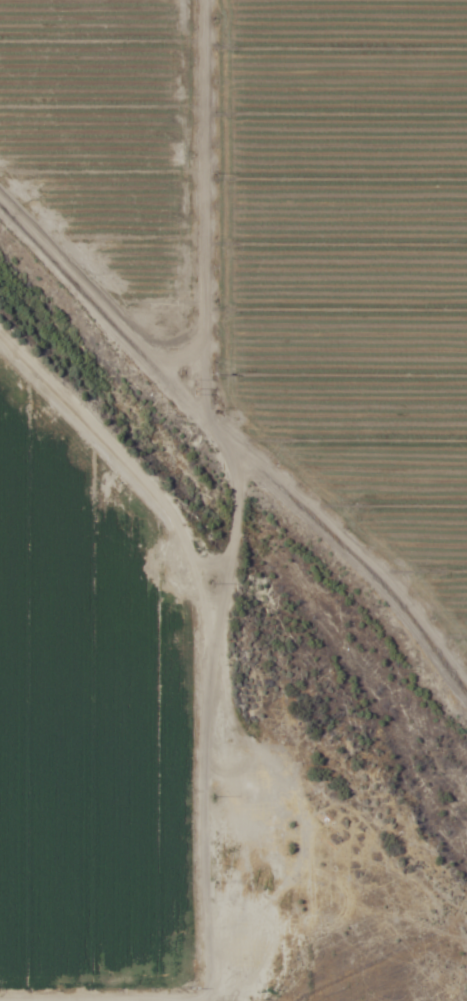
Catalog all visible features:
crop: (233, 500)
road: (237, 500)
road: (232, 570)

